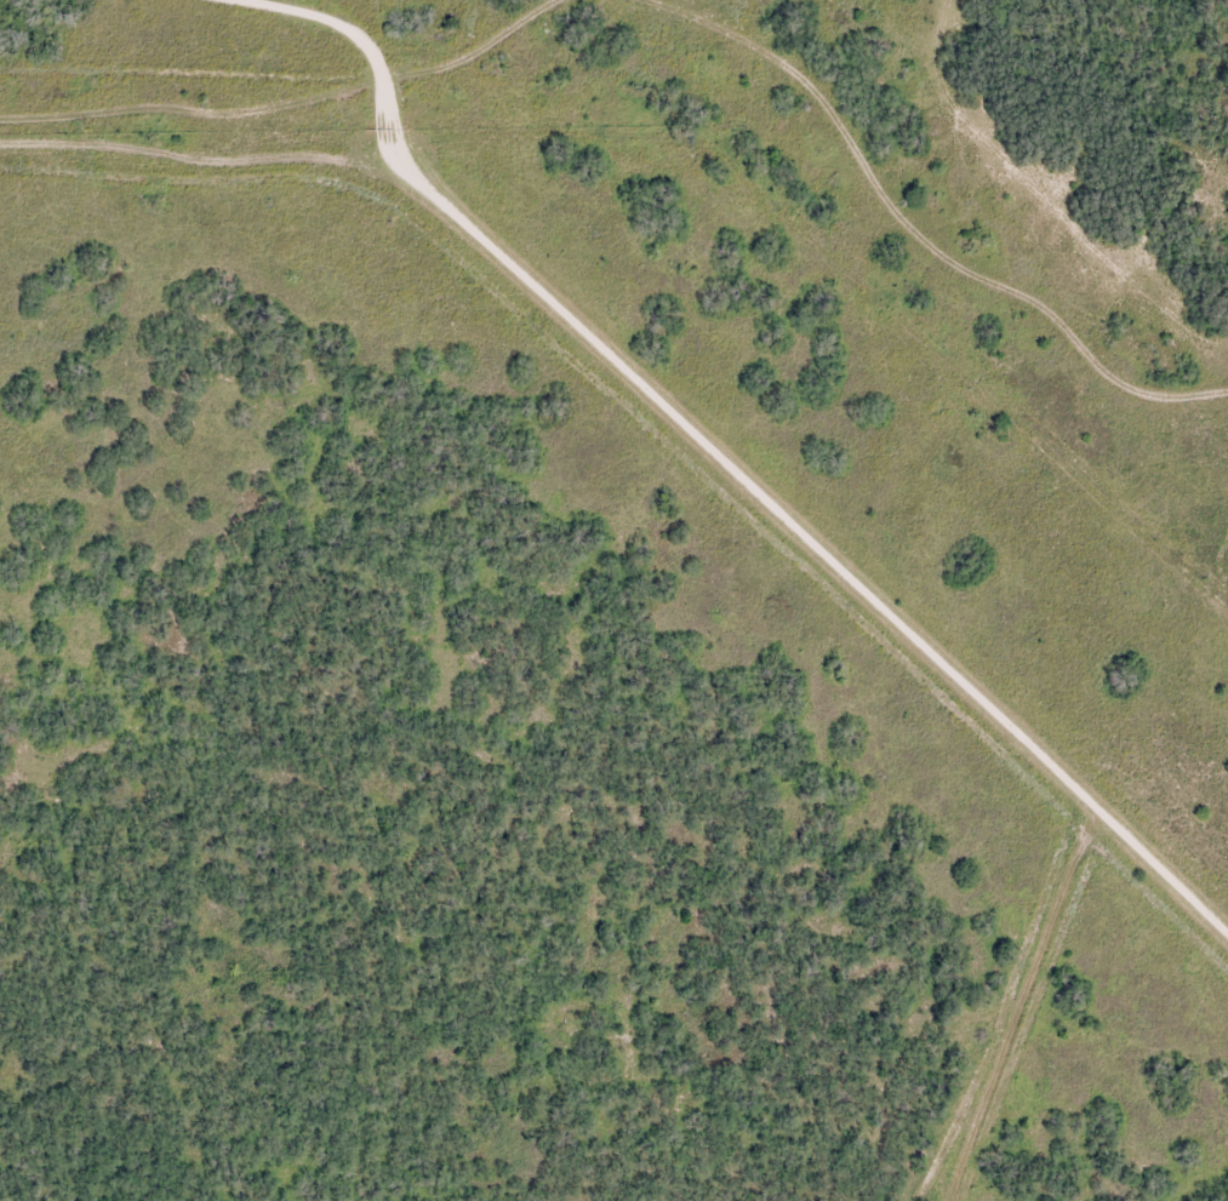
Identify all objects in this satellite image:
road: (754, 468)

